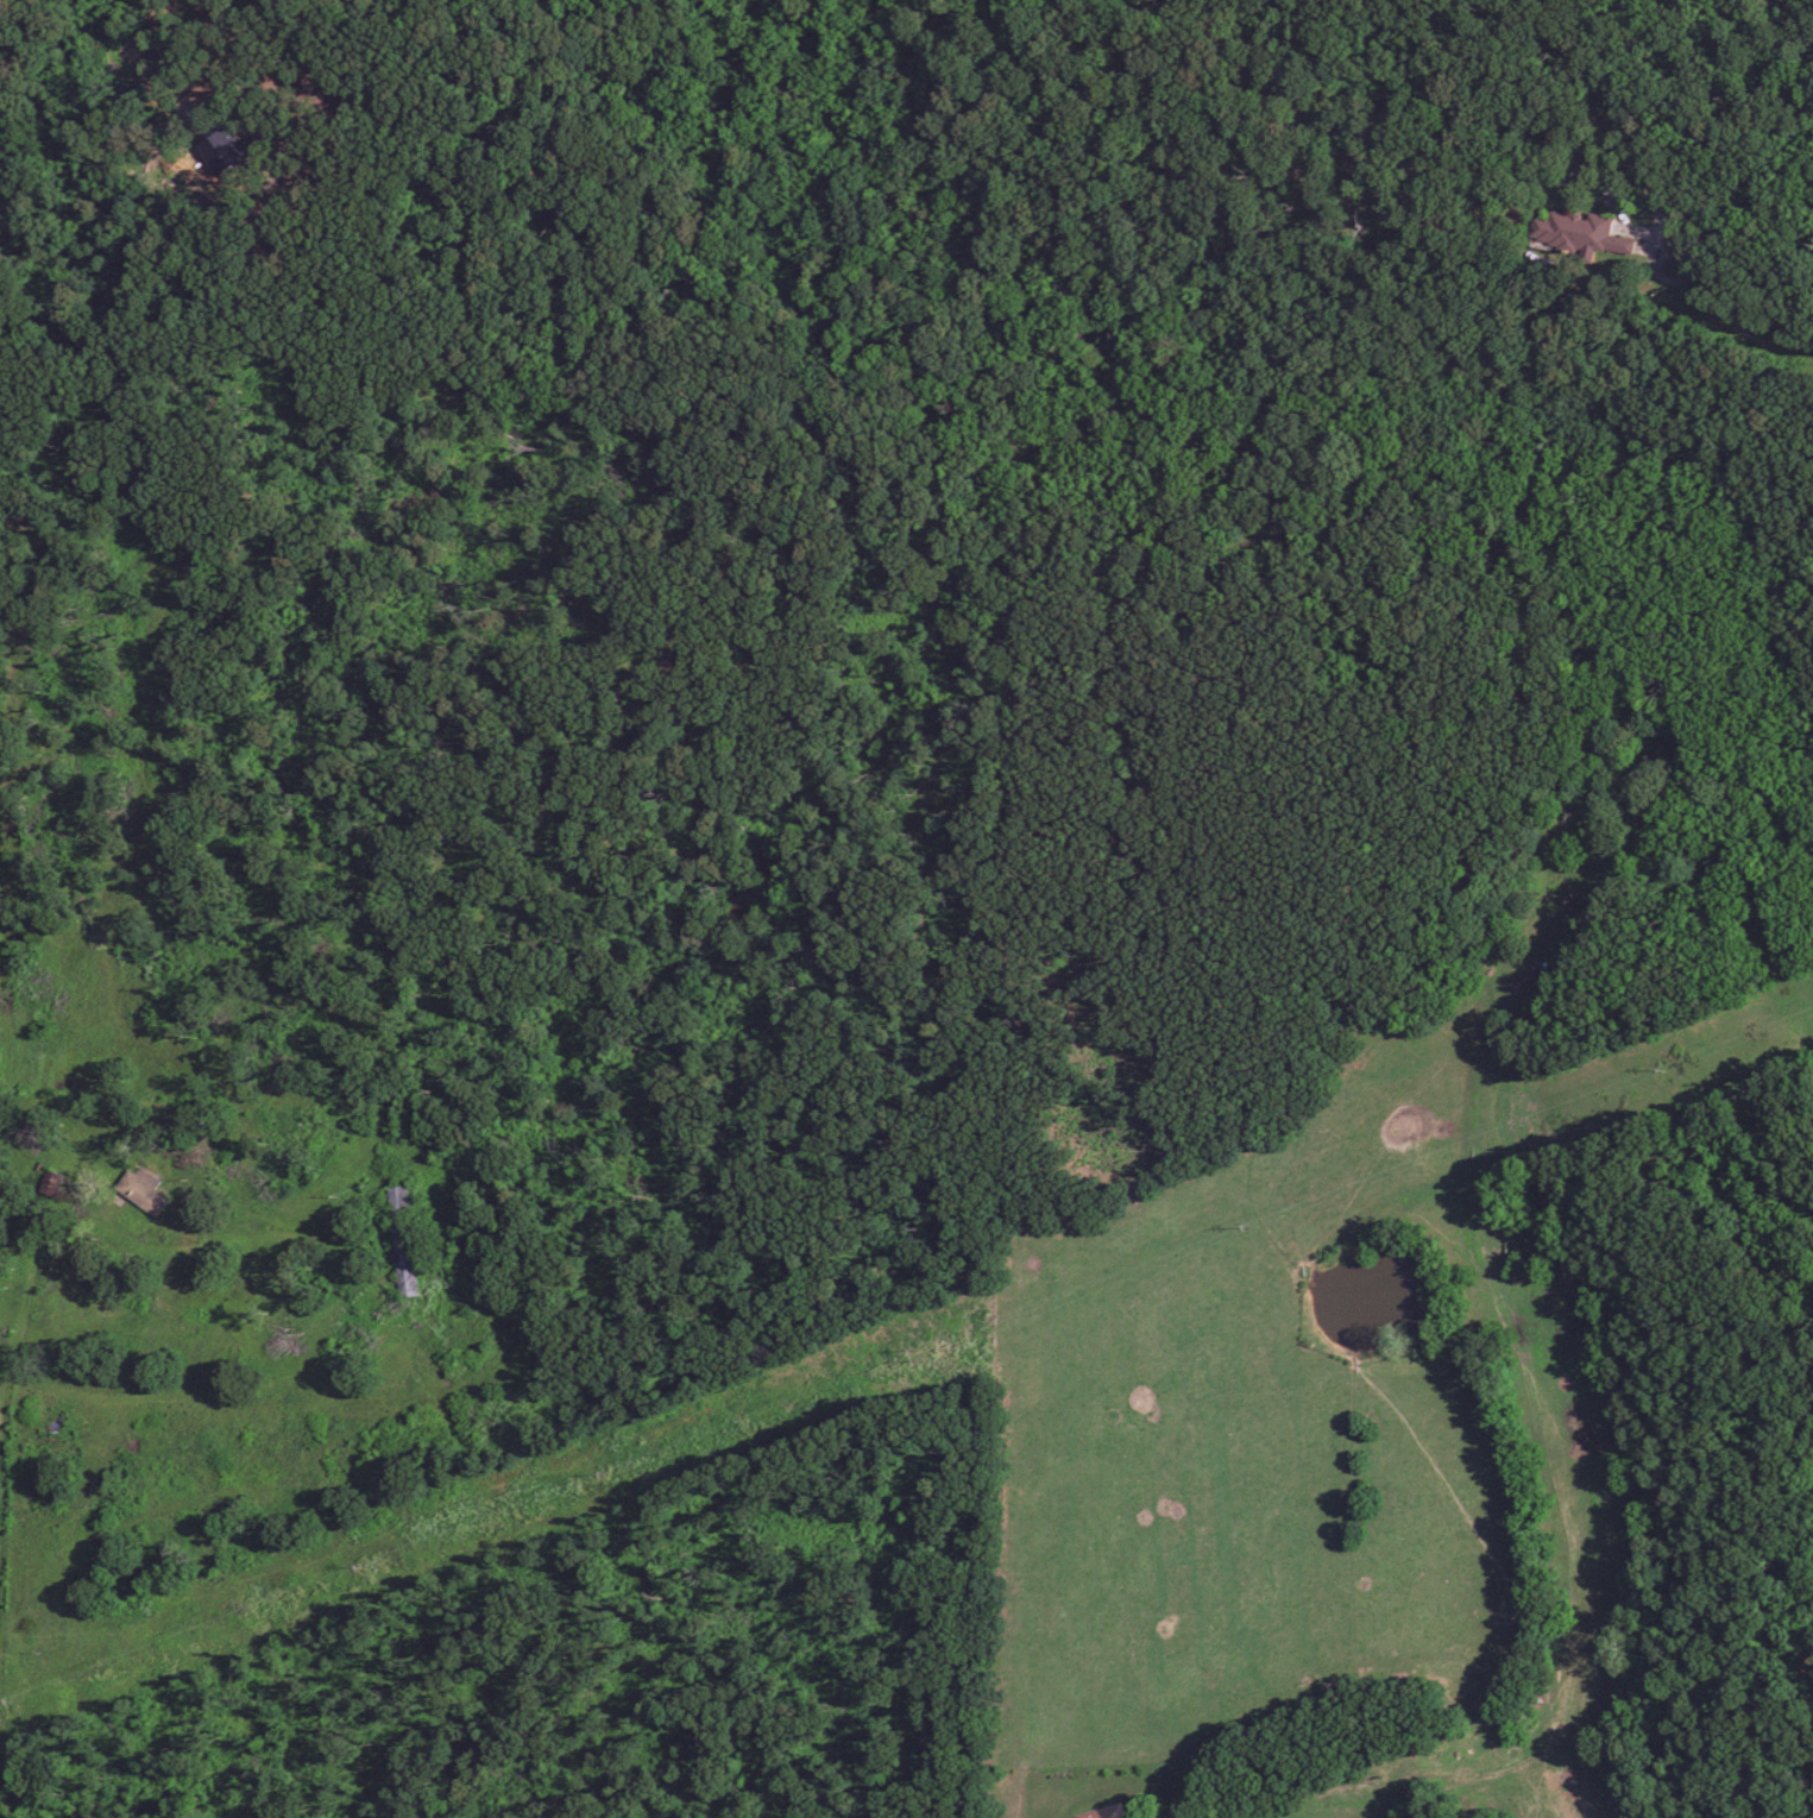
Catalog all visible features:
road: (160, 54)
road: (1371, 156)
road: (4, 1417)
building: (1106, 1811)

